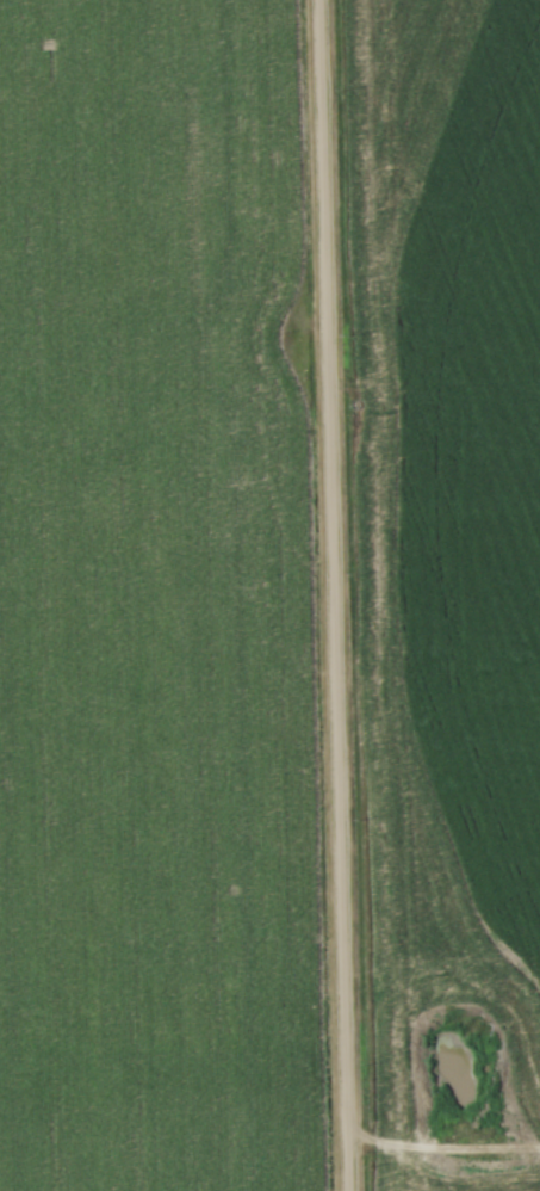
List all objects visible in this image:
crop: (157, 536)
road: (334, 595)

